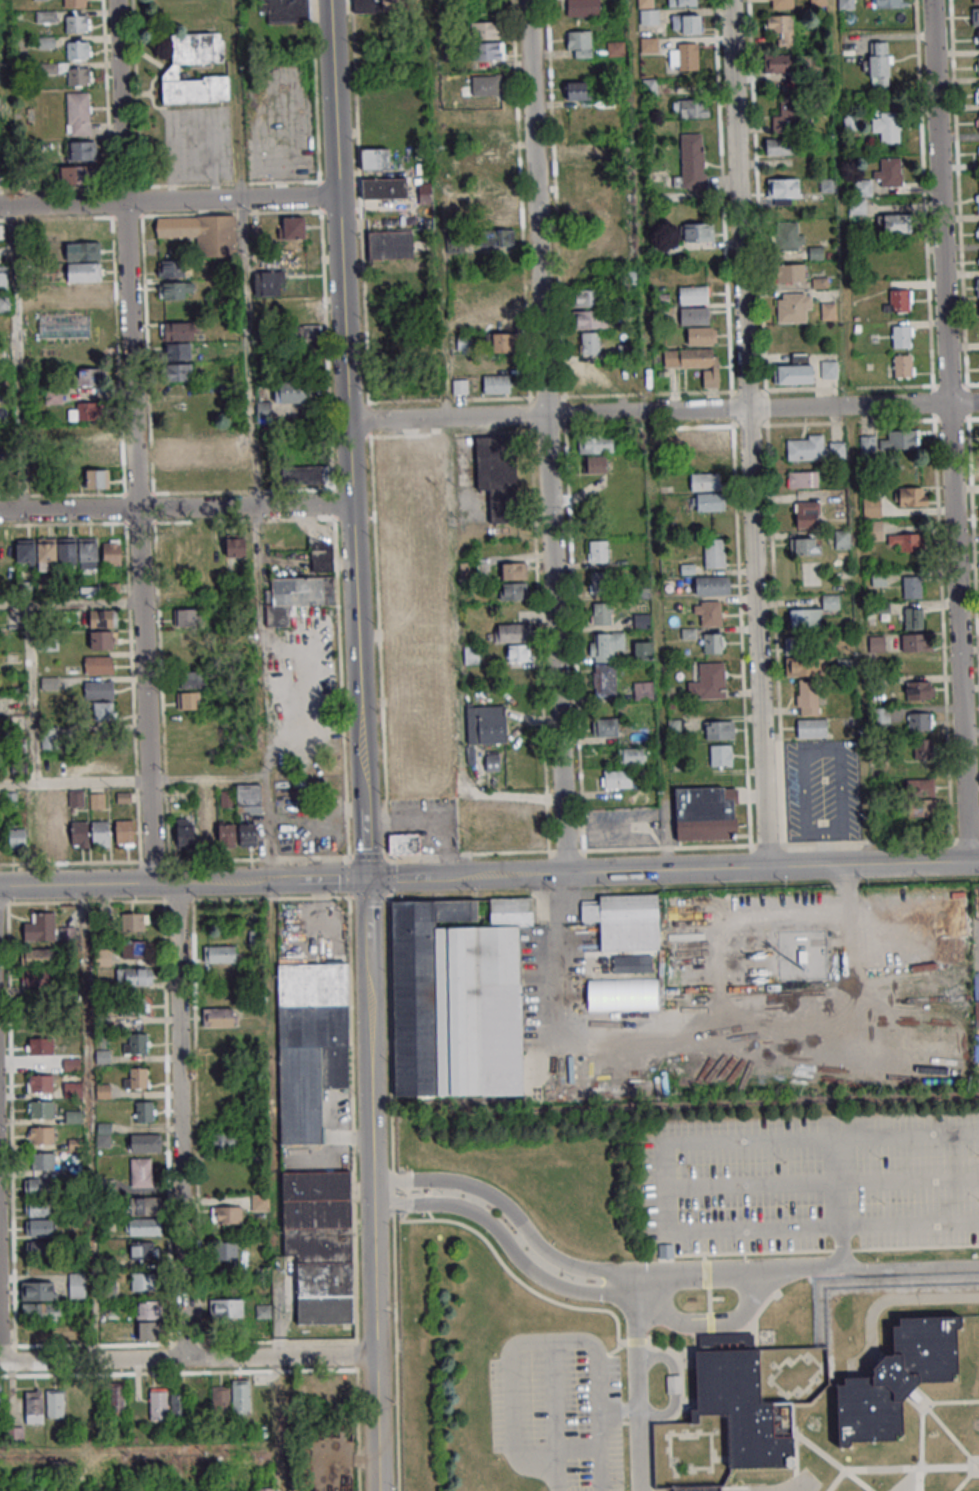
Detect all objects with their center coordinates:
building: (975, 1)
building: (817, 2)
building: (75, 3)
building: (683, 3)
building: (782, 3)
building: (888, 3)
building: (393, 4)
building: (845, 4)
building: (366, 6)
building: (582, 7)
building: (285, 11)
building: (975, 16)
building: (77, 23)
building: (686, 23)
building: (781, 28)
building: (485, 30)
building: (976, 38)
building: (578, 43)
building: (648, 44)
building: (615, 48)
building: (78, 49)
building: (489, 50)
building: (684, 55)
building: (778, 63)
building: (879, 63)
building: (977, 66)
building: (173, 69)
building: (73, 72)
road: (354, 85)
building: (487, 86)
building: (649, 87)
building: (574, 90)
road: (315, 91)
building: (977, 94)
building: (685, 108)
building: (78, 113)
building: (490, 114)
building: (791, 118)
building: (977, 122)
building: (886, 126)
building: (490, 134)
building: (781, 146)
building: (81, 150)
building: (579, 152)
building: (978, 152)
building: (491, 156)
building: (373, 159)
building: (690, 163)
road: (373, 172)
building: (889, 172)
road: (358, 173)
building: (580, 173)
building: (77, 175)
building: (826, 185)
road: (358, 188)
building: (384, 188)
building: (783, 191)
building: (977, 192)
road: (319, 195)
building: (496, 196)
building: (860, 196)
road: (230, 200)
road: (359, 203)
road: (61, 204)
building: (582, 209)
road: (359, 212)
building: (499, 216)
building: (894, 223)
road: (360, 225)
building: (292, 227)
building: (82, 231)
building: (202, 232)
building: (696, 232)
building: (977, 232)
building: (789, 235)
building: (498, 237)
building: (388, 245)
road: (339, 250)
building: (83, 251)
building: (978, 260)
building: (174, 268)
building: (83, 271)
building: (790, 272)
building: (3, 277)
building: (268, 283)
building: (977, 286)
building: (176, 290)
building: (84, 292)
building: (693, 294)
building: (585, 297)
building: (899, 300)
building: (2, 302)
building: (794, 307)
building: (977, 307)
building: (828, 310)
building: (694, 315)
building: (590, 319)
road: (364, 320)
road: (14, 327)
building: (176, 331)
building: (500, 332)
building: (306, 334)
building: (701, 335)
building: (901, 336)
building: (590, 343)
road: (325, 348)
building: (177, 351)
building: (86, 355)
building: (495, 363)
building: (695, 363)
building: (902, 365)
building: (829, 369)
building: (618, 371)
building: (178, 372)
building: (793, 373)
building: (591, 374)
building: (88, 376)
building: (496, 384)
road: (249, 388)
building: (280, 397)
building: (86, 410)
building: (176, 411)
road: (662, 411)
road: (368, 419)
road: (949, 430)
road: (748, 433)
road: (650, 434)
building: (95, 435)
road: (545, 436)
road: (447, 438)
building: (702, 438)
building: (900, 440)
road: (133, 441)
building: (595, 443)
building: (867, 443)
building: (814, 448)
building: (182, 452)
building: (96, 457)
building: (708, 461)
building: (592, 464)
building: (305, 475)
building: (498, 475)
building: (96, 478)
building: (802, 479)
building: (705, 481)
building: (910, 496)
road: (332, 501)
building: (874, 506)
road: (175, 507)
building: (807, 514)
building: (874, 531)
building: (842, 539)
building: (414, 540)
building: (906, 541)
building: (805, 546)
building: (194, 547)
building: (224, 547)
building: (170, 549)
building: (50, 551)
building: (111, 551)
building: (597, 551)
building: (714, 553)
building: (322, 556)
building: (513, 570)
building: (811, 576)
building: (878, 578)
building: (599, 582)
building: (172, 585)
building: (712, 585)
building: (912, 586)
building: (513, 591)
building: (296, 595)
road: (68, 601)
building: (831, 601)
road: (337, 613)
building: (601, 613)
building: (709, 613)
building: (185, 617)
building: (803, 617)
building: (913, 617)
building: (102, 618)
building: (642, 620)
building: (512, 632)
building: (186, 638)
building: (101, 639)
building: (916, 642)
building: (712, 643)
building: (877, 643)
road: (378, 645)
building: (605, 645)
building: (642, 650)
building: (519, 653)
building: (802, 657)
building: (188, 658)
building: (98, 664)
building: (844, 664)
building: (193, 679)
building: (604, 679)
building: (708, 681)
building: (98, 689)
road: (357, 690)
building: (643, 690)
building: (920, 690)
road: (31, 691)
building: (807, 697)
building: (188, 700)
building: (103, 710)
road: (319, 713)
road: (341, 718)
building: (919, 720)
building: (605, 728)
building: (811, 728)
building: (719, 730)
building: (485, 735)
building: (50, 738)
road: (287, 746)
building: (923, 748)
building: (420, 751)
building: (631, 755)
building: (720, 755)
building: (103, 764)
street lamp: (268, 771)
building: (616, 779)
road: (132, 780)
building: (921, 787)
road: (344, 795)
building: (249, 798)
building: (97, 800)
building: (921, 807)
building: (706, 813)
road: (265, 829)
building: (185, 831)
building: (124, 832)
building: (247, 832)
building: (100, 833)
building: (37, 834)
building: (80, 834)
building: (206, 834)
building: (227, 835)
building: (17, 836)
building: (58, 838)
building: (404, 843)
road: (384, 855)
road: (310, 856)
road: (366, 856)
road: (266, 858)
road: (213, 859)
road: (153, 860)
road: (71, 862)
road: (771, 866)
road: (464, 876)
road: (386, 877)
road: (348, 878)
traffic signals: (365, 879)
road: (270, 881)
road: (88, 884)
street lamp: (277, 895)
road: (349, 897)
road: (367, 897)
road: (385, 897)
road: (268, 898)
road: (176, 900)
road: (126, 901)
road: (41, 902)
road: (83, 902)
road: (2, 903)
building: (135, 921)
building: (623, 921)
building: (40, 927)
building: (133, 949)
building: (220, 954)
building: (34, 957)
building: (104, 957)
road: (568, 967)
building: (134, 976)
building: (35, 978)
building: (457, 997)
building: (134, 1007)
building: (40, 1008)
building: (218, 1017)
road: (368, 1029)
building: (137, 1043)
building: (310, 1044)
building: (39, 1046)
building: (71, 1063)
building: (136, 1077)
building: (39, 1083)
building: (72, 1089)
building: (103, 1090)
building: (40, 1109)
building: (143, 1111)
road: (351, 1119)
road: (179, 1120)
road: (87, 1123)
building: (103, 1134)
building: (41, 1135)
building: (226, 1141)
building: (146, 1142)
building: (42, 1161)
building: (141, 1172)
road: (821, 1181)
parking lot: (808, 1183)
road: (662, 1184)
building: (37, 1186)
road: (392, 1192)
road: (837, 1201)
building: (260, 1202)
building: (144, 1205)
building: (39, 1207)
building: (226, 1214)
building: (143, 1226)
building: (39, 1228)
road: (531, 1238)
building: (320, 1243)
building: (35, 1249)
building: (144, 1250)
building: (226, 1251)
road: (841, 1265)
road: (530, 1269)
building: (143, 1281)
building: (77, 1285)
building: (39, 1290)
road: (886, 1300)
building: (226, 1308)
building: (41, 1310)
building: (149, 1319)
road: (711, 1323)
road: (374, 1335)
road: (542, 1341)
road: (355, 1355)
road: (660, 1356)
road: (187, 1358)
road: (871, 1362)
street lamp: (340, 1368)
road: (636, 1380)
building: (894, 1381)
building: (672, 1385)
road: (672, 1385)
building: (116, 1397)
building: (241, 1397)
building: (0, 1398)
building: (220, 1399)
road: (949, 1402)
building: (55, 1403)
building: (158, 1403)
building: (739, 1404)
building: (178, 1405)
building: (34, 1406)
parking lot: (557, 1410)
road: (662, 1413)
road: (556, 1416)
road: (356, 1429)
road: (944, 1431)
building: (15, 1435)
road: (182, 1446)
road: (918, 1447)
road: (576, 1449)
road: (831, 1461)
road: (898, 1469)
road: (967, 1477)
building: (40, 1486)
building: (265, 1488)
building: (696, 1489)
building: (17, 1490)

